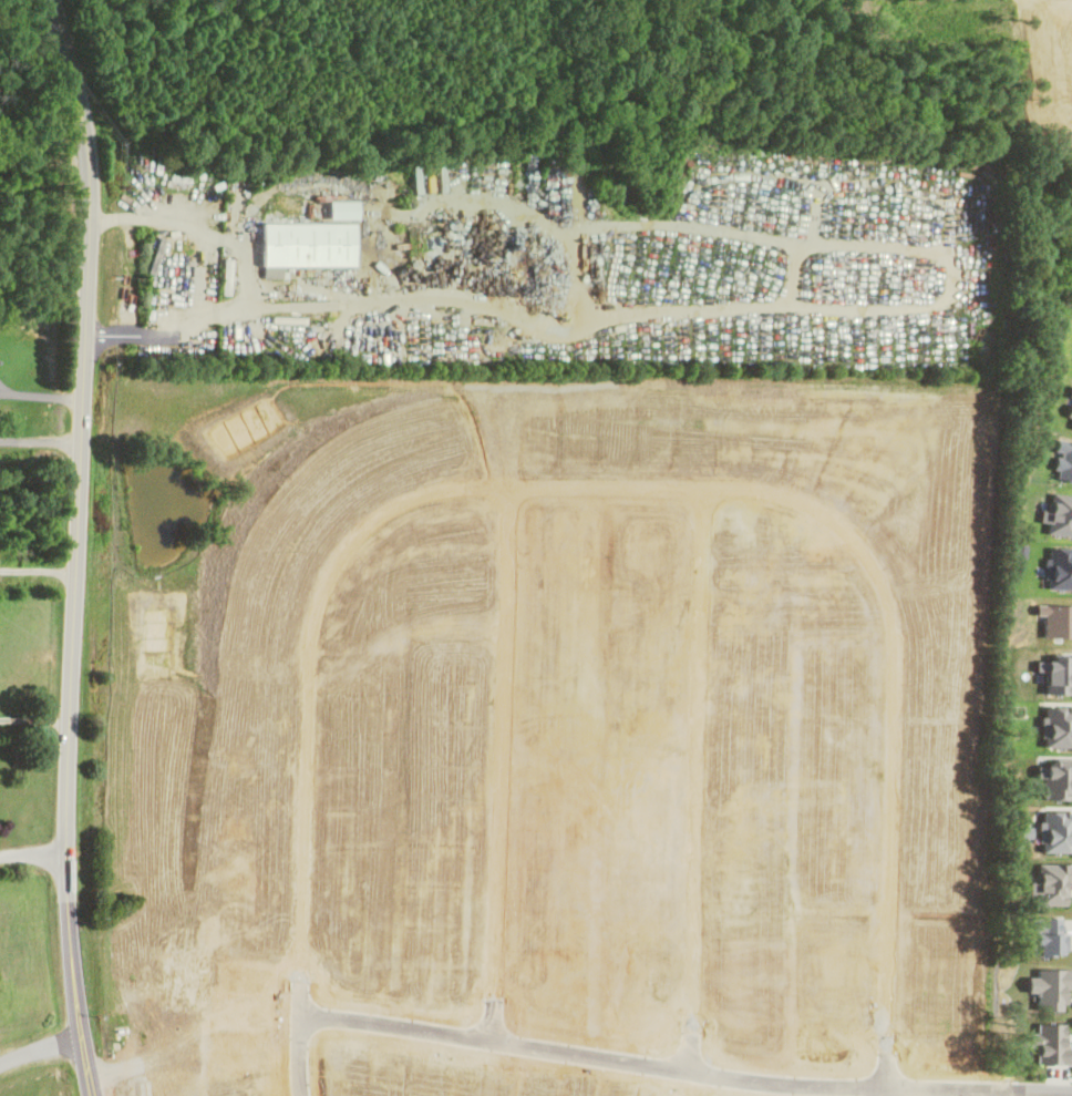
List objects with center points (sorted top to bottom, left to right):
building: (306, 244)
building: (224, 276)
road: (247, 279)
road: (41, 393)
road: (40, 441)
road: (641, 484)
road: (75, 546)
road: (38, 567)
road: (34, 717)
building: (712, 720)
road: (502, 760)
building: (516, 769)
road: (699, 776)
building: (736, 813)
building: (651, 839)
road: (32, 853)
building: (605, 863)
building: (502, 997)
road: (298, 1049)
road: (38, 1052)
road: (686, 1065)
road: (1060, 1077)
road: (880, 1089)

